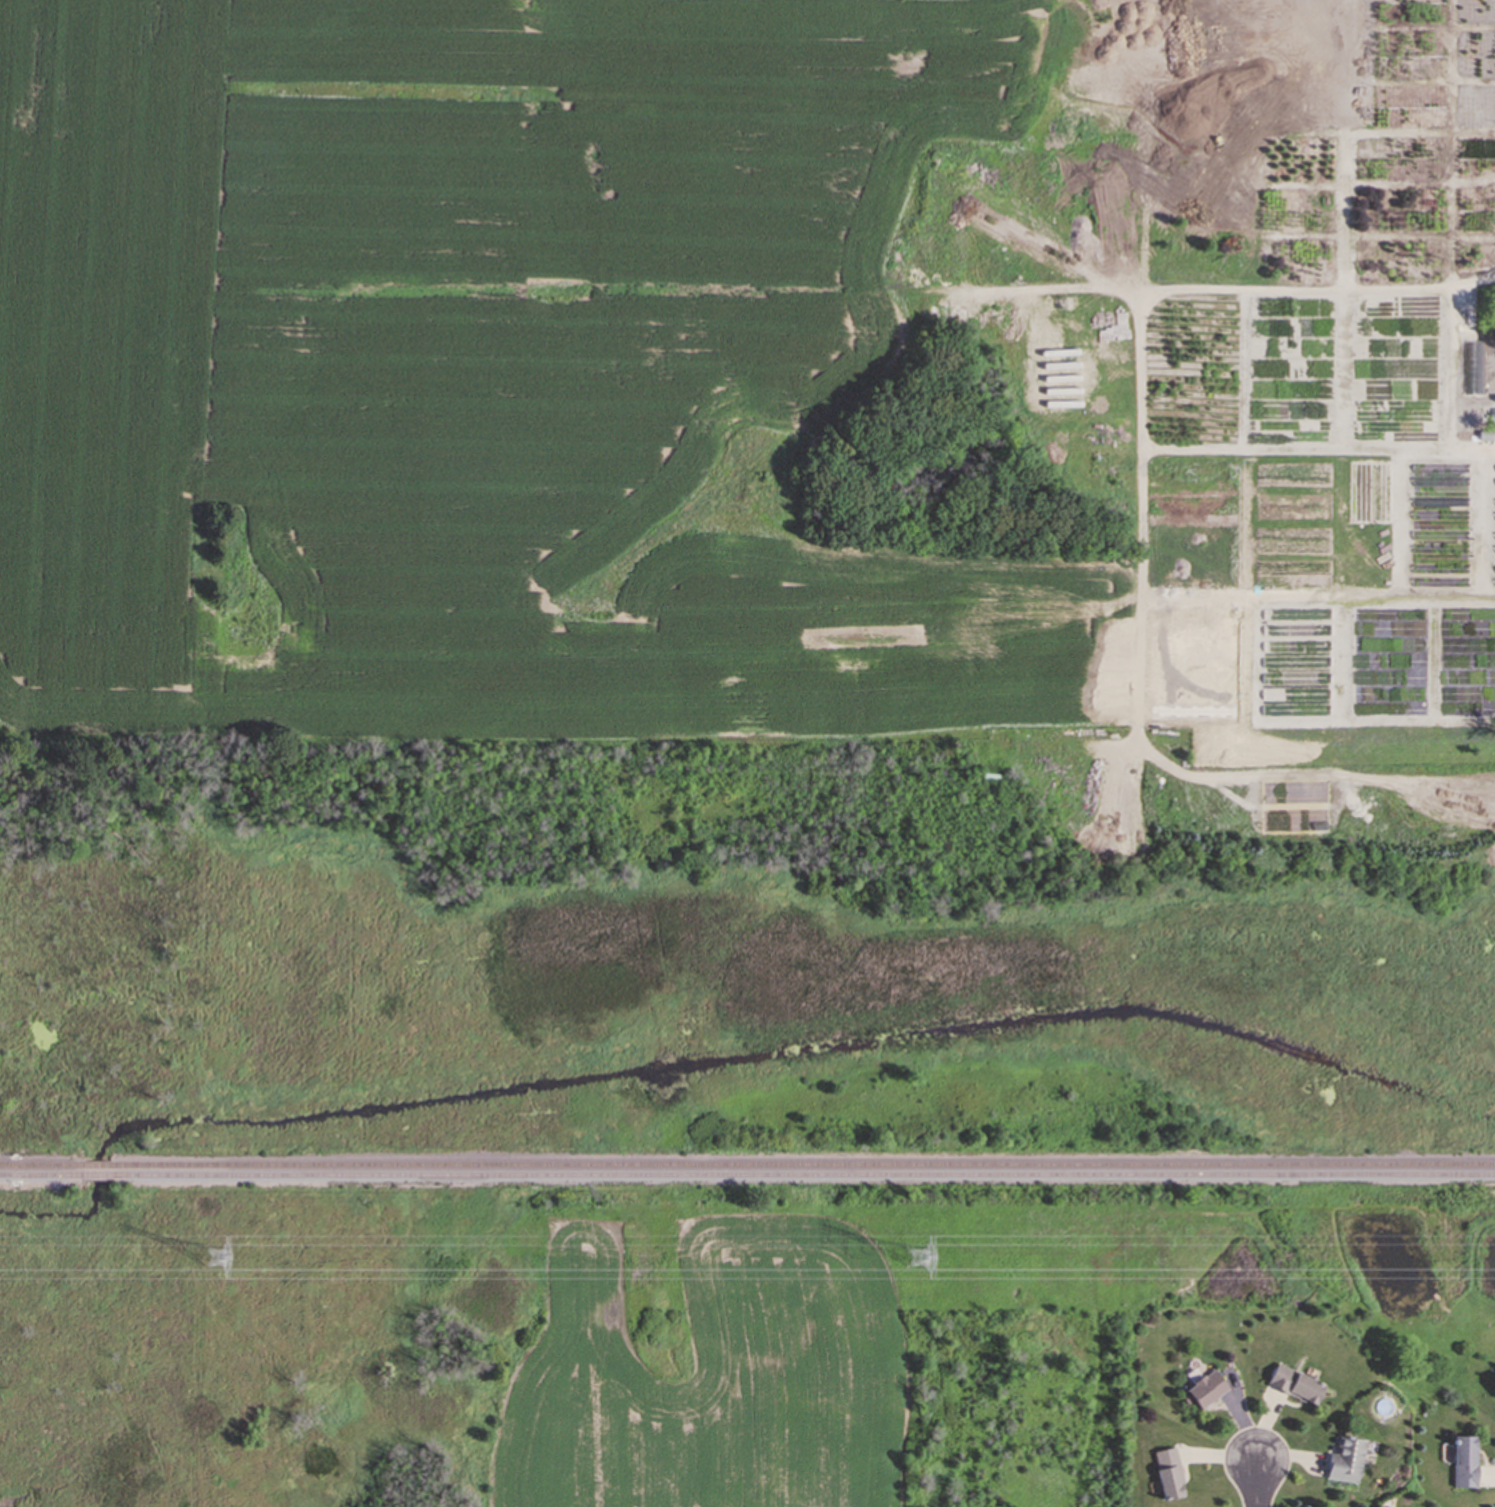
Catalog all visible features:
crop: (485, 375)
building: (1494, 415)
building: (1486, 435)
railway: (41, 1166)
railway: (96, 1166)
railway: (802, 1166)
railway: (40, 1176)
railway: (803, 1176)
railway: (96, 1177)
power tower: (919, 1257)
power tower: (214, 1259)
crop: (712, 1370)
building: (1494, 1378)
building: (1294, 1384)
building: (1203, 1388)
building: (1344, 1459)
building: (1463, 1461)
building: (1167, 1473)
road: (1258, 1482)

